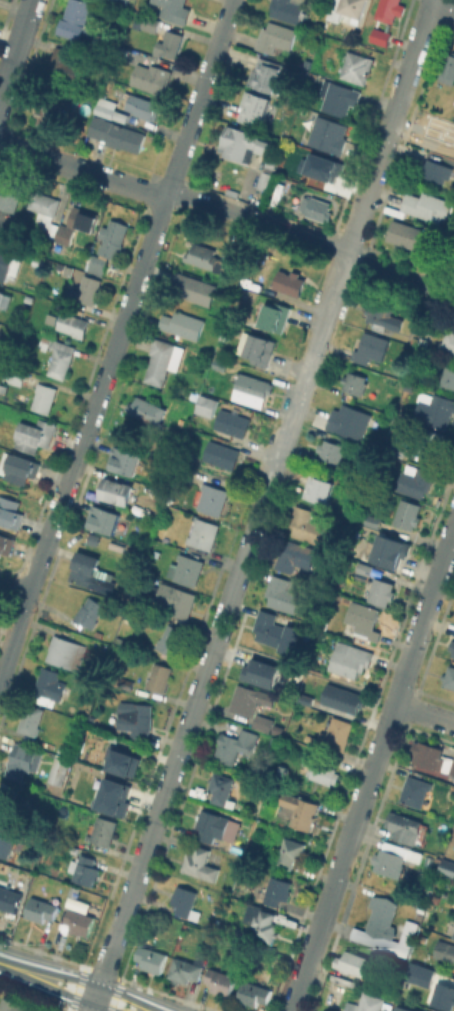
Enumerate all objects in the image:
building: (122, 1)
road: (450, 3)
road: (231, 4)
building: (348, 7)
building: (288, 9)
building: (174, 10)
building: (388, 10)
building: (75, 18)
building: (149, 22)
road: (22, 30)
building: (275, 36)
building: (381, 36)
building: (169, 43)
road: (214, 56)
building: (65, 64)
building: (356, 66)
building: (448, 68)
building: (267, 76)
building: (151, 77)
road: (6, 78)
building: (338, 97)
building: (129, 105)
building: (45, 108)
building: (259, 108)
road: (390, 128)
building: (117, 133)
building: (328, 134)
building: (438, 135)
building: (238, 144)
road: (182, 149)
building: (268, 163)
building: (319, 166)
road: (82, 169)
building: (437, 170)
building: (262, 179)
building: (9, 197)
building: (43, 203)
building: (316, 207)
building: (426, 207)
road: (258, 220)
building: (77, 223)
building: (404, 233)
building: (108, 245)
building: (209, 258)
building: (8, 265)
road: (400, 278)
building: (289, 282)
building: (195, 288)
building: (87, 290)
building: (2, 299)
road: (126, 311)
building: (379, 313)
building: (275, 317)
building: (54, 318)
building: (73, 323)
building: (182, 324)
building: (448, 341)
building: (370, 347)
building: (257, 348)
building: (59, 356)
building: (162, 360)
road: (310, 367)
building: (16, 374)
building: (448, 376)
building: (354, 384)
building: (252, 389)
building: (44, 397)
building: (207, 404)
building: (147, 410)
building: (434, 410)
building: (349, 421)
building: (231, 422)
building: (37, 436)
building: (431, 443)
building: (395, 447)
building: (331, 451)
building: (221, 454)
building: (126, 461)
building: (22, 469)
building: (184, 472)
building: (358, 474)
building: (415, 481)
building: (319, 488)
building: (117, 492)
building: (212, 498)
building: (10, 513)
building: (408, 513)
road: (259, 516)
building: (104, 521)
building: (305, 523)
building: (371, 524)
building: (203, 533)
building: (93, 538)
building: (7, 545)
building: (389, 551)
road: (42, 554)
building: (294, 556)
building: (365, 568)
building: (188, 569)
building: (90, 572)
road: (238, 577)
road: (14, 590)
building: (382, 591)
building: (281, 594)
building: (180, 602)
building: (90, 611)
building: (364, 619)
building: (275, 632)
building: (170, 640)
building: (452, 644)
building: (65, 652)
building: (453, 654)
building: (349, 658)
road: (307, 670)
building: (263, 672)
building: (158, 677)
building: (449, 677)
building: (50, 683)
building: (252, 697)
building: (308, 699)
building: (347, 699)
road: (425, 710)
building: (136, 718)
building: (30, 721)
building: (263, 722)
building: (336, 734)
building: (274, 741)
building: (236, 745)
road: (179, 750)
building: (428, 754)
building: (284, 756)
building: (22, 760)
building: (117, 763)
building: (452, 768)
road: (373, 769)
building: (59, 770)
building: (323, 772)
building: (276, 773)
building: (221, 788)
building: (416, 790)
building: (105, 795)
building: (6, 796)
building: (299, 810)
building: (213, 826)
building: (405, 826)
building: (103, 830)
building: (6, 840)
building: (453, 848)
building: (291, 852)
building: (394, 859)
building: (200, 863)
building: (85, 870)
building: (447, 870)
building: (275, 891)
building: (71, 896)
building: (9, 898)
building: (185, 902)
building: (41, 909)
building: (79, 921)
building: (263, 924)
building: (385, 927)
building: (453, 934)
road: (112, 948)
building: (445, 950)
building: (152, 958)
building: (354, 963)
building: (185, 969)
building: (220, 980)
building: (434, 983)
road: (71, 987)
building: (371, 990)
building: (254, 993)
building: (371, 1002)
road: (94, 1003)
building: (16, 1007)
building: (404, 1008)

